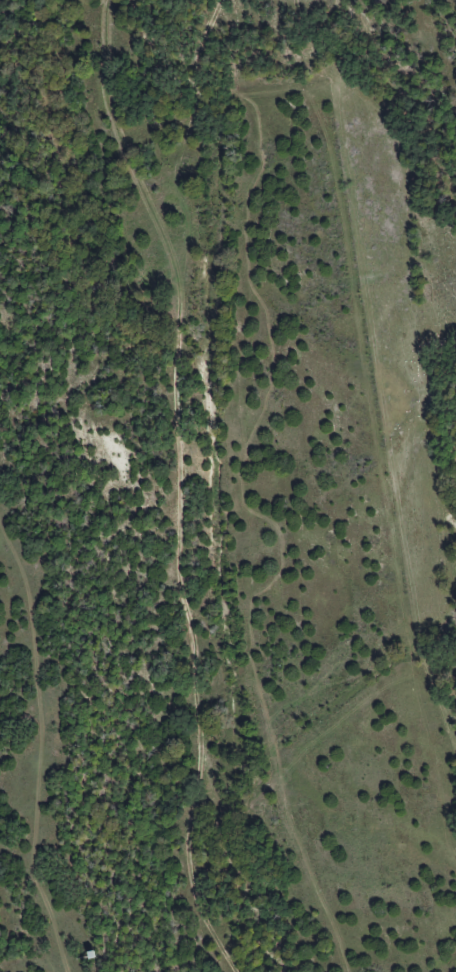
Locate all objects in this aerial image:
road: (179, 486)
road: (32, 490)

